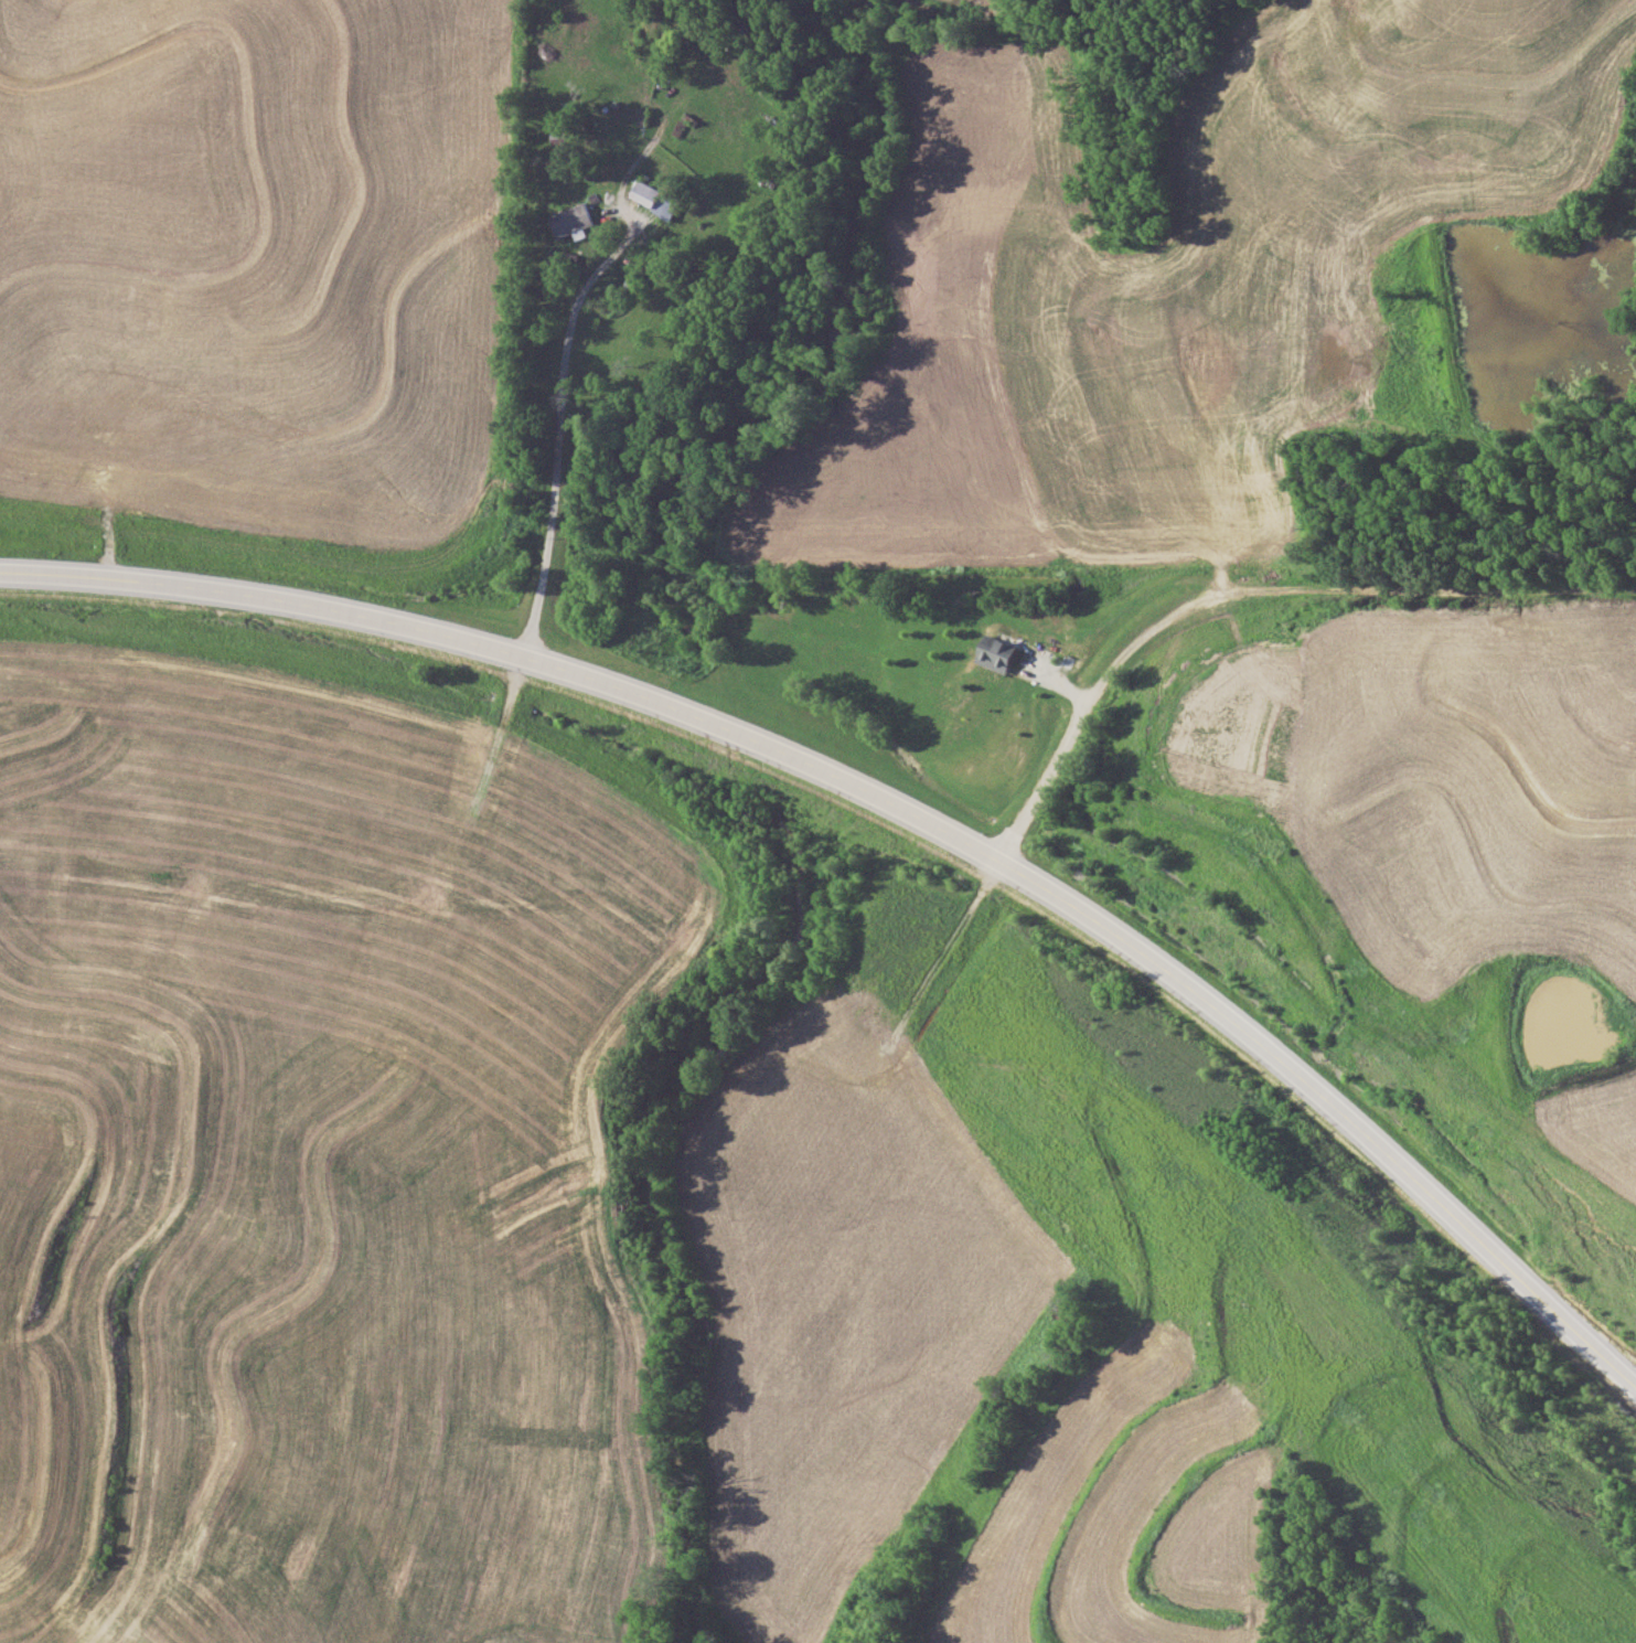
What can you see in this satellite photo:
building: (669, 56)
building: (562, 136)
building: (656, 198)
building: (571, 220)
building: (563, 259)
road: (556, 486)
road: (1125, 641)
building: (999, 653)
road: (903, 813)

